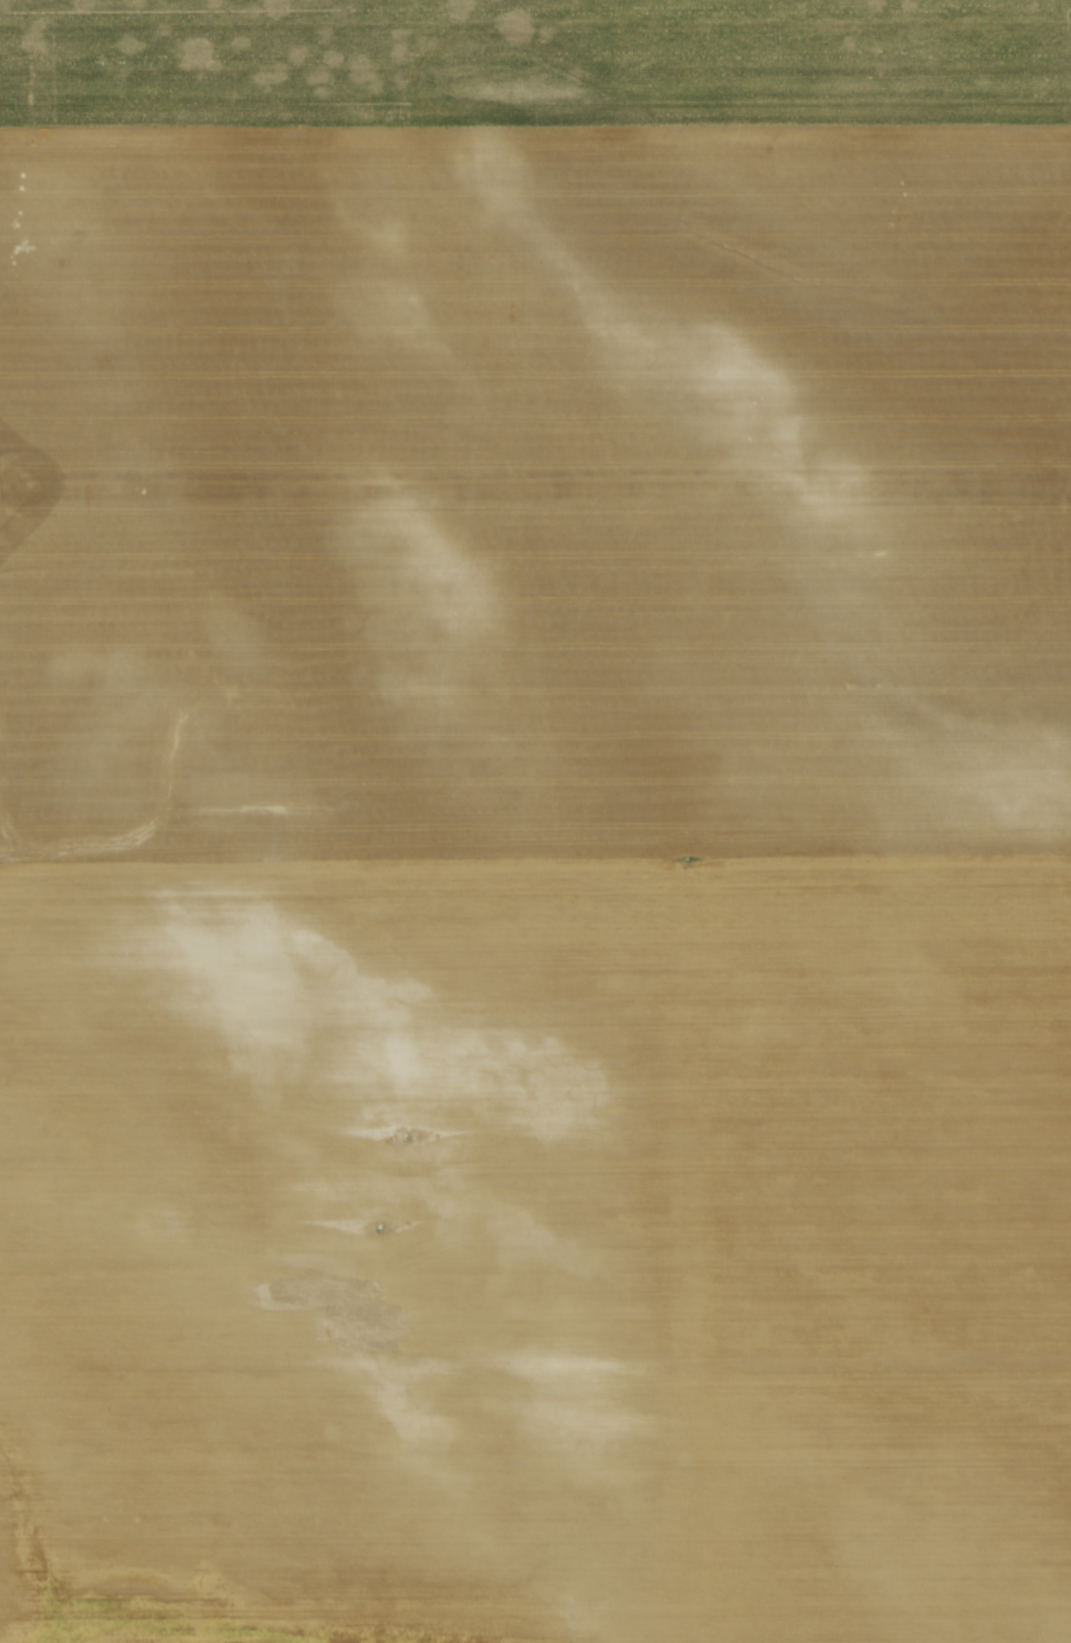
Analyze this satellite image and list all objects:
crop: (535, 821)

